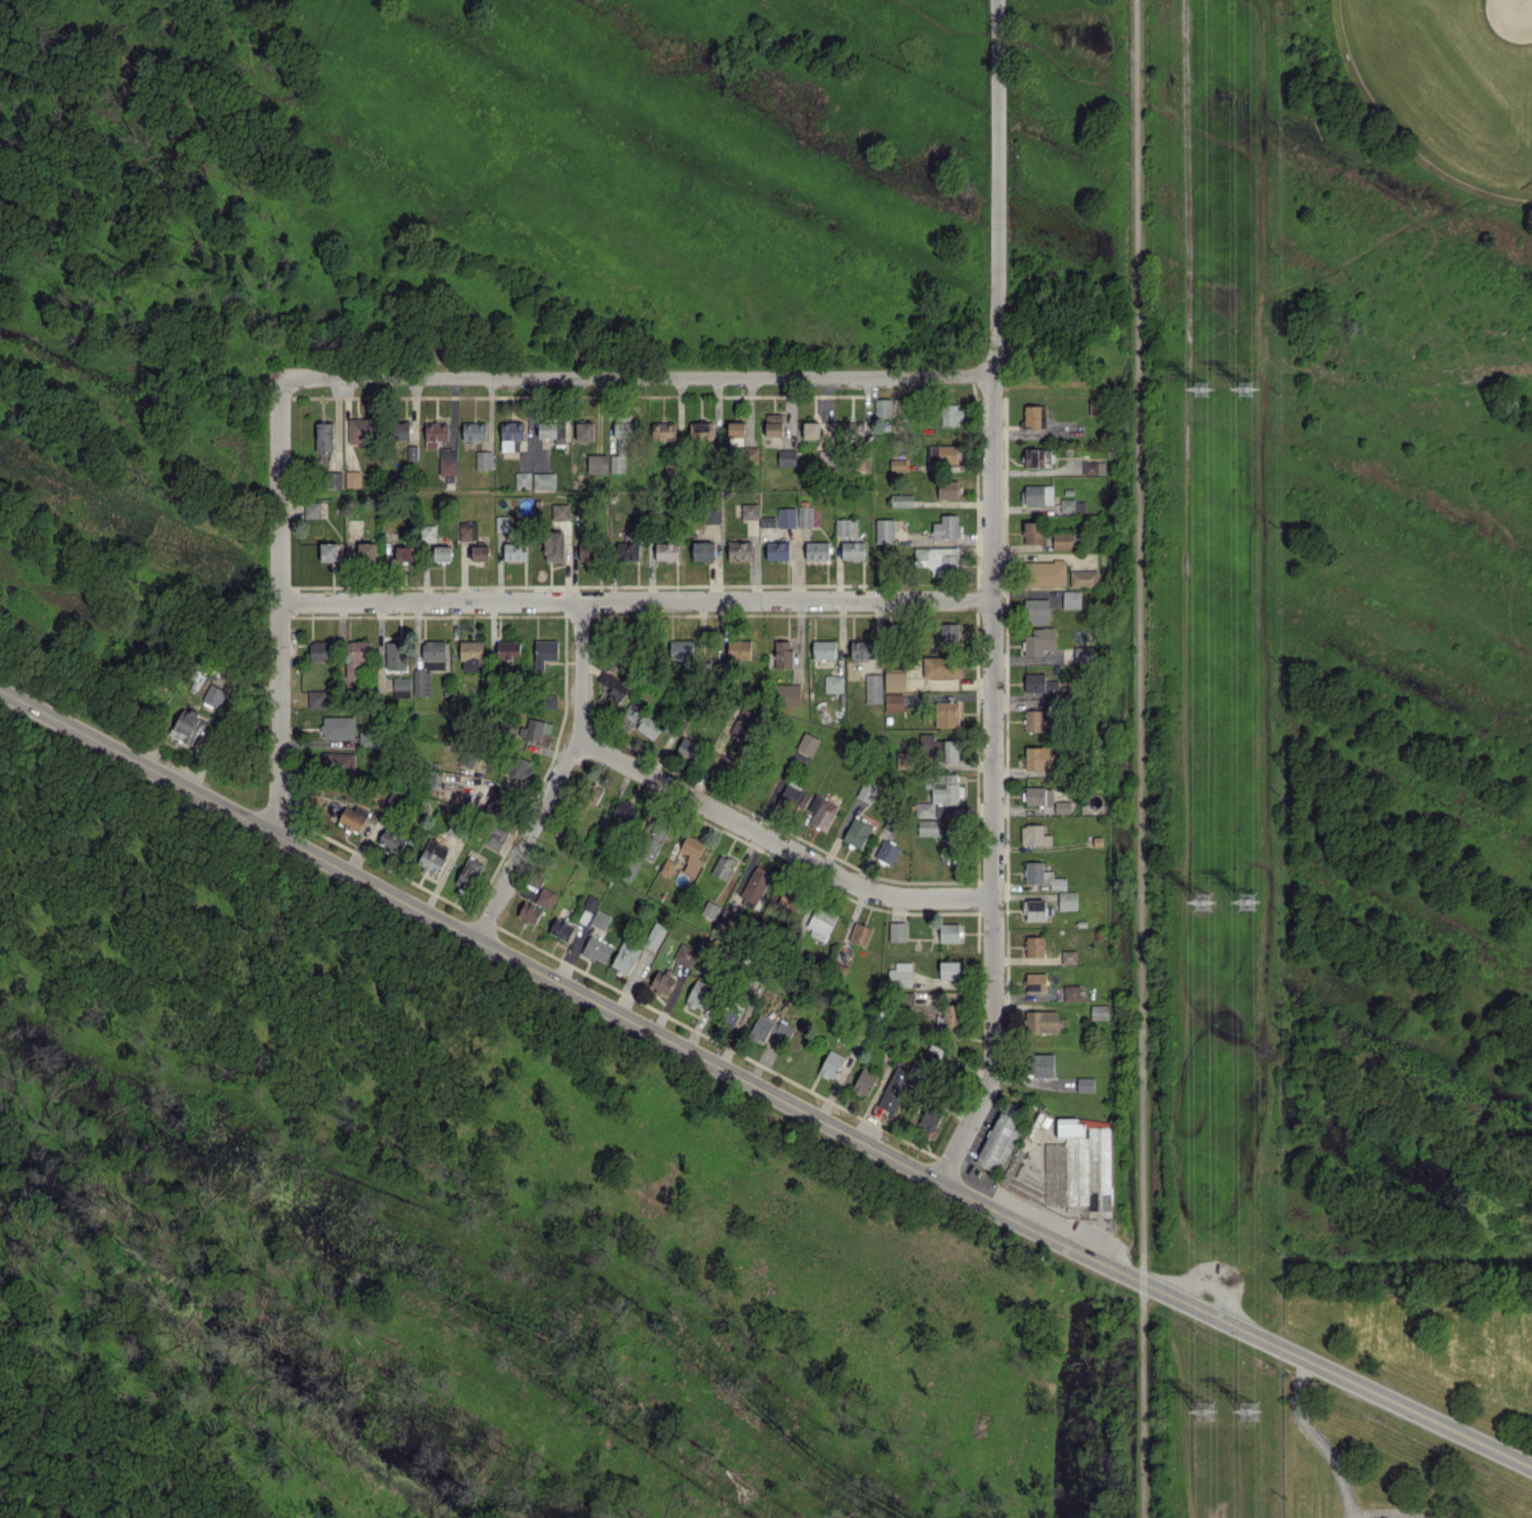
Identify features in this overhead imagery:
park: (1451, 82)
road: (638, 377)
power tower: (1200, 385)
power tower: (1250, 387)
building: (883, 407)
building: (952, 414)
building: (1032, 416)
building: (773, 424)
building: (736, 428)
building: (852, 428)
building: (546, 429)
building: (811, 429)
building: (358, 430)
building: (400, 430)
building: (474, 430)
building: (585, 430)
building: (701, 430)
building: (664, 431)
building: (621, 432)
building: (435, 433)
building: (511, 434)
building: (324, 436)
building: (412, 452)
building: (947, 452)
building: (750, 454)
building: (786, 456)
building: (1037, 457)
building: (483, 459)
building: (447, 460)
building: (617, 463)
building: (862, 464)
building: (898, 464)
building: (1094, 467)
building: (334, 478)
building: (352, 478)
building: (523, 479)
building: (543, 480)
building: (947, 489)
building: (1039, 494)
building: (901, 499)
building: (1067, 504)
building: (312, 509)
building: (560, 511)
building: (749, 511)
building: (711, 515)
building: (786, 516)
building: (804, 516)
building: (767, 521)
building: (502, 523)
building: (846, 526)
building: (946, 526)
road: (994, 529)
building: (467, 530)
building: (884, 530)
building: (428, 532)
building: (1033, 532)
building: (1065, 540)
building: (554, 545)
building: (817, 549)
building: (628, 550)
building: (667, 550)
building: (704, 550)
building: (740, 550)
building: (777, 550)
building: (853, 550)
building: (329, 551)
building: (366, 551)
building: (515, 551)
building: (586, 551)
building: (404, 552)
building: (480, 552)
building: (442, 553)
building: (937, 559)
building: (1045, 573)
building: (1083, 577)
building: (1071, 599)
road: (637, 600)
road: (279, 605)
building: (1037, 610)
building: (949, 633)
road: (1139, 634)
building: (1040, 640)
building: (507, 648)
building: (739, 648)
building: (824, 648)
building: (862, 649)
building: (320, 650)
building: (681, 650)
building: (545, 652)
building: (395, 653)
building: (783, 654)
building: (471, 655)
building: (355, 656)
building: (429, 665)
building: (941, 667)
building: (895, 678)
building: (833, 683)
building: (1039, 683)
building: (401, 686)
building: (612, 687)
building: (873, 687)
building: (787, 694)
building: (214, 695)
building: (317, 698)
building: (549, 699)
building: (894, 701)
building: (946, 713)
building: (628, 715)
building: (1037, 719)
building: (745, 723)
building: (187, 725)
building: (338, 726)
building: (648, 726)
building: (534, 729)
building: (367, 739)
building: (807, 743)
building: (938, 746)
building: (686, 748)
building: (1035, 757)
building: (467, 758)
building: (902, 759)
building: (338, 761)
building: (721, 763)
building: (517, 769)
road: (556, 776)
building: (943, 787)
building: (866, 791)
building: (592, 793)
building: (1039, 795)
building: (793, 797)
building: (1062, 806)
building: (924, 808)
building: (625, 809)
building: (822, 811)
building: (353, 817)
building: (928, 827)
building: (857, 832)
building: (495, 835)
building: (1034, 835)
building: (392, 839)
building: (654, 839)
road: (776, 842)
building: (947, 849)
building: (887, 851)
building: (692, 854)
building: (432, 857)
building: (667, 866)
building: (723, 866)
building: (631, 868)
building: (468, 873)
building: (755, 885)
power tower: (1202, 895)
power tower: (1252, 896)
building: (546, 897)
building: (788, 899)
building: (1067, 900)
building: (587, 909)
building: (710, 909)
building: (1034, 909)
building: (529, 912)
building: (600, 919)
building: (821, 922)
building: (561, 928)
building: (897, 931)
building: (949, 932)
building: (860, 933)
building: (654, 935)
building: (1034, 946)
building: (597, 949)
building: (685, 954)
building: (625, 956)
building: (1068, 956)
building: (949, 969)
building: (900, 974)
building: (662, 980)
building: (1036, 981)
building: (1071, 992)
building: (698, 994)
building: (907, 998)
building: (1099, 1011)
building: (951, 1014)
building: (729, 1016)
building: (1041, 1021)
road: (645, 1026)
building: (761, 1028)
building: (831, 1064)
building: (1041, 1064)
building: (864, 1081)
building: (1085, 1084)
building: (898, 1086)
building: (930, 1118)
road: (970, 1121)
building: (998, 1142)
building: (1079, 1167)
road: (1144, 1281)
power tower: (1255, 1405)
road: (1144, 1406)
road: (1413, 1410)
power tower: (1204, 1414)
road: (1315, 1438)
park: (1377, 1466)
road: (1392, 1516)

